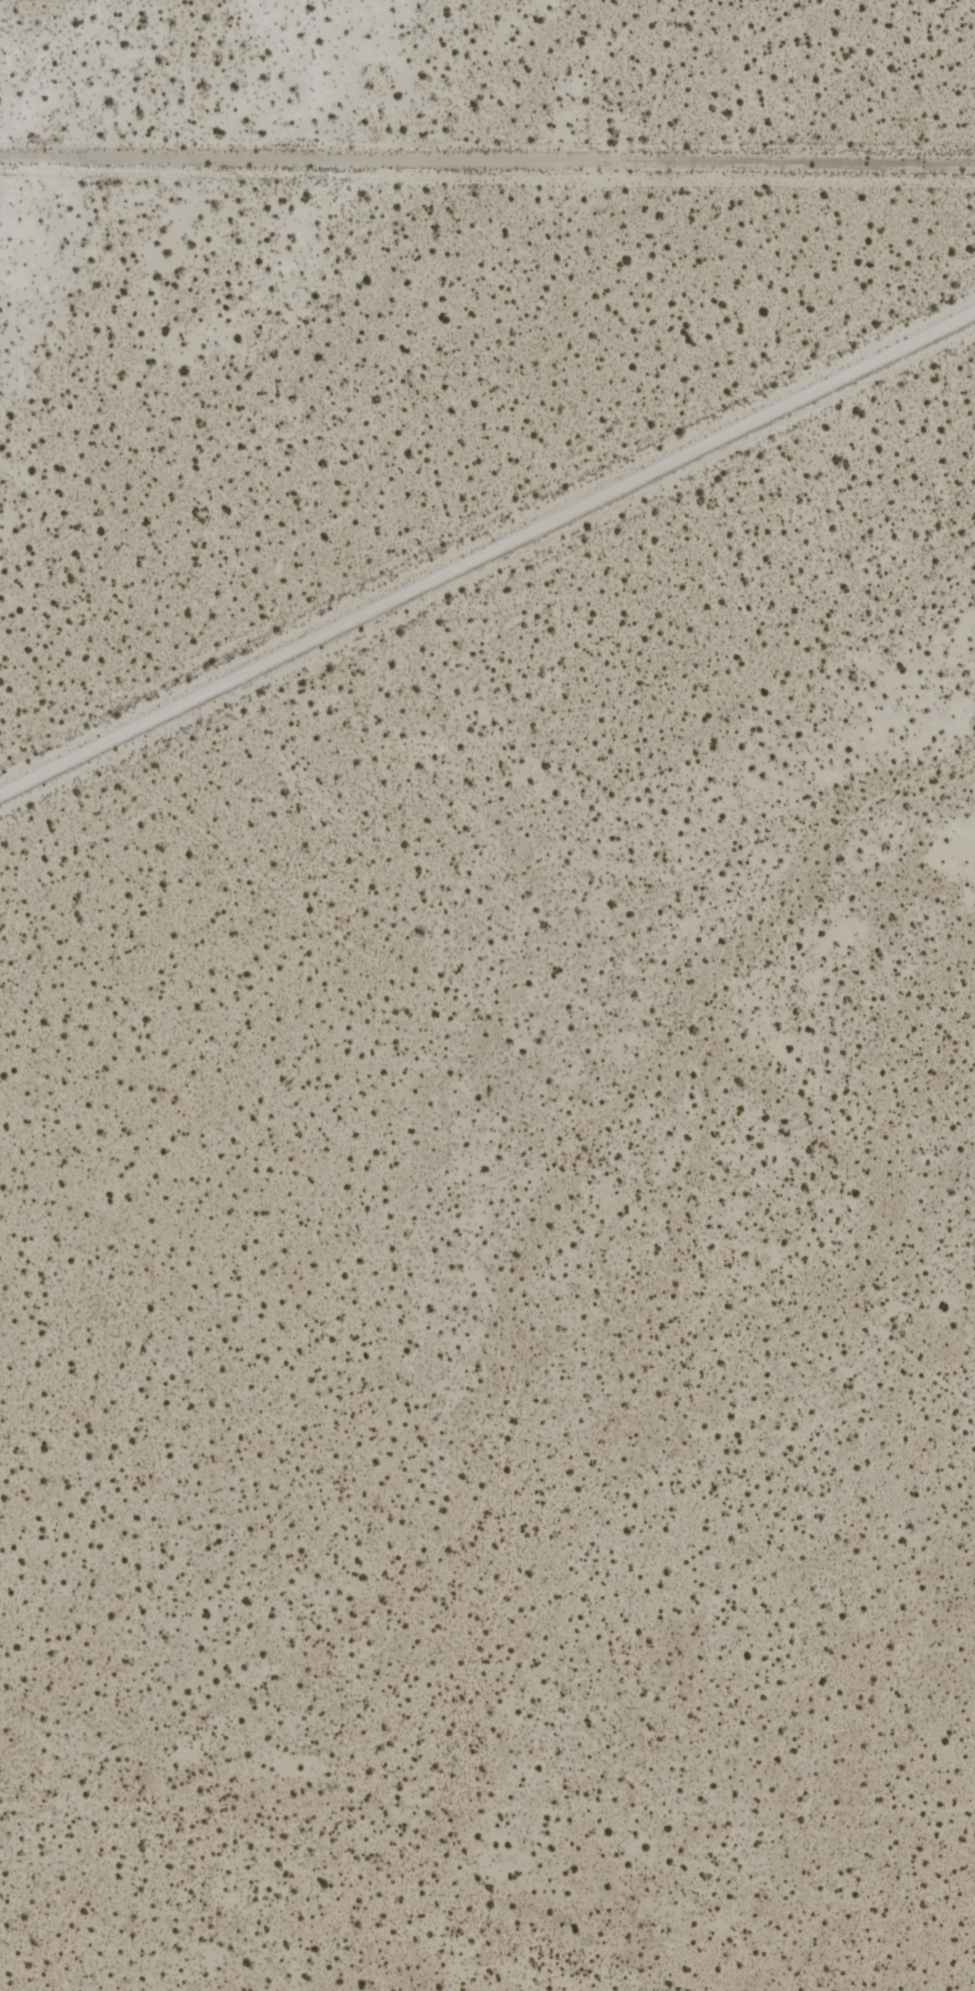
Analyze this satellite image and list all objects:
road: (487, 167)
road: (487, 556)

